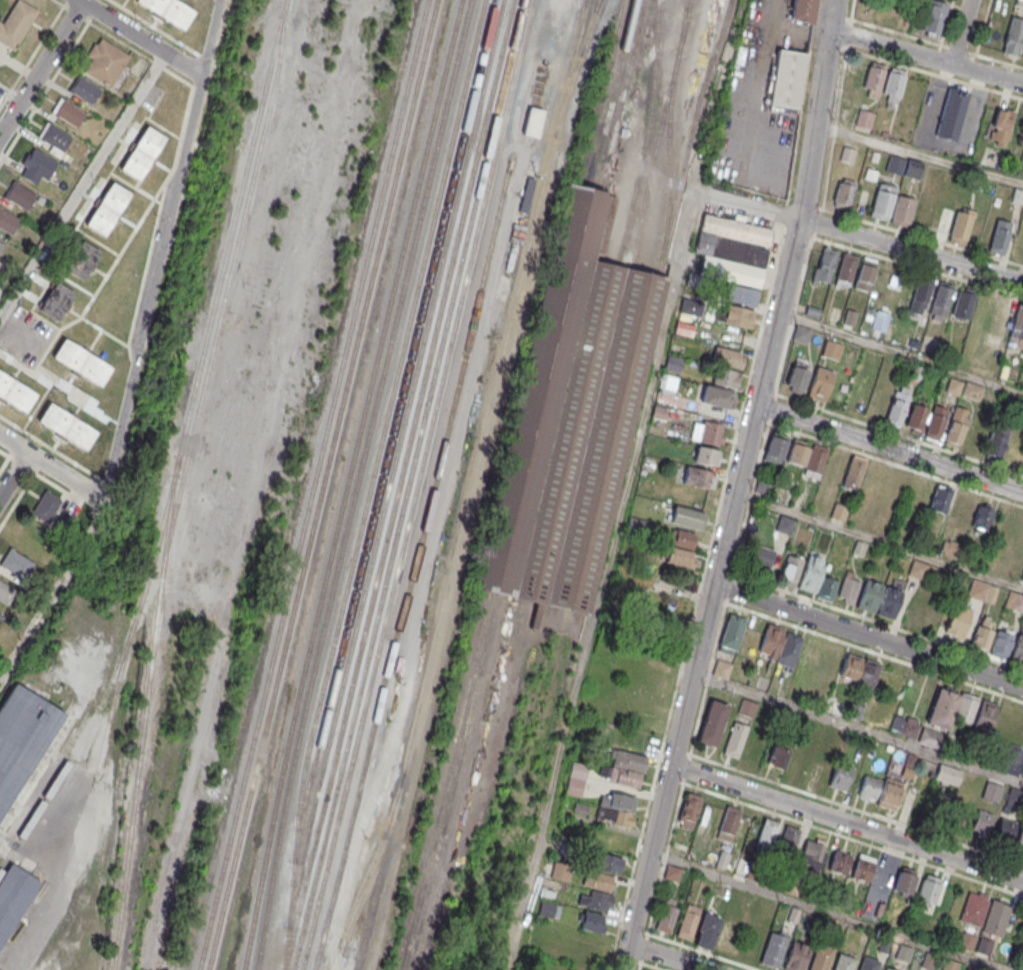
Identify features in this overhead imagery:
railway: (582, 2)
building: (169, 11)
building: (801, 11)
building: (933, 17)
building: (16, 23)
railway: (680, 25)
railway: (585, 26)
road: (787, 30)
road: (960, 32)
building: (1013, 36)
road: (141, 37)
road: (926, 57)
building: (105, 61)
railway: (572, 66)
road: (41, 68)
road: (760, 73)
building: (786, 78)
building: (872, 80)
building: (85, 89)
building: (892, 89)
railway: (600, 92)
railway: (609, 93)
railway: (621, 94)
building: (69, 112)
building: (951, 114)
building: (864, 119)
building: (531, 121)
building: (1000, 127)
railway: (645, 133)
railway: (657, 133)
railway: (687, 135)
building: (54, 138)
railway: (667, 140)
building: (142, 152)
road: (919, 152)
building: (848, 153)
building: (36, 165)
building: (903, 166)
road: (83, 182)
building: (843, 193)
building: (19, 195)
building: (882, 201)
road: (747, 204)
building: (107, 209)
building: (902, 210)
building: (8, 221)
building: (961, 225)
building: (999, 236)
building: (1, 246)
building: (732, 249)
road: (161, 251)
road: (911, 251)
building: (81, 260)
building: (824, 265)
building: (845, 269)
building: (864, 273)
railway: (224, 287)
building: (742, 295)
building: (919, 297)
building: (56, 300)
building: (940, 301)
building: (963, 303)
building: (690, 307)
building: (1000, 316)
building: (740, 317)
road: (773, 331)
building: (800, 334)
parking lot: (25, 335)
building: (831, 349)
road: (900, 353)
building: (727, 357)
building: (81, 362)
building: (726, 377)
building: (796, 377)
building: (819, 384)
building: (963, 388)
building: (15, 392)
building: (717, 396)
building: (898, 404)
building: (568, 417)
building: (916, 417)
building: (935, 422)
building: (66, 425)
building: (956, 427)
railway: (390, 429)
building: (712, 432)
building: (996, 440)
building: (775, 448)
road: (889, 448)
building: (797, 452)
building: (706, 456)
building: (816, 459)
railway: (392, 462)
building: (1022, 469)
road: (54, 470)
building: (853, 472)
road: (14, 475)
building: (696, 477)
railway: (170, 480)
railway: (368, 482)
railway: (354, 483)
railway: (310, 484)
railway: (345, 484)
railway: (395, 484)
railway: (468, 484)
building: (871, 484)
railway: (320, 485)
railway: (405, 485)
railway: (413, 485)
building: (939, 498)
building: (46, 507)
building: (961, 508)
building: (687, 517)
building: (982, 519)
building: (784, 524)
building: (902, 533)
building: (681, 539)
road: (879, 541)
building: (679, 557)
building: (761, 559)
building: (16, 563)
building: (917, 569)
railway: (411, 570)
building: (790, 570)
building: (811, 573)
road: (600, 579)
building: (1022, 581)
building: (848, 587)
building: (827, 588)
building: (982, 591)
building: (5, 592)
road: (54, 595)
building: (869, 596)
building: (1014, 601)
building: (888, 602)
building: (958, 621)
building: (731, 633)
building: (983, 633)
road: (868, 635)
building: (770, 639)
building: (1001, 643)
building: (788, 649)
building: (1017, 651)
building: (809, 653)
railway: (534, 666)
building: (720, 668)
building: (849, 669)
building: (868, 676)
railway: (106, 691)
railway: (114, 698)
building: (645, 699)
building: (746, 707)
building: (950, 707)
railway: (510, 709)
building: (845, 710)
building: (985, 715)
building: (712, 722)
railway: (549, 723)
building: (904, 726)
road: (857, 729)
building: (22, 737)
building: (929, 737)
building: (734, 740)
building: (787, 757)
building: (1012, 760)
building: (908, 765)
building: (624, 768)
building: (818, 768)
road: (685, 770)
building: (948, 774)
building: (840, 777)
railway: (437, 779)
railway: (447, 780)
building: (576, 781)
railway: (459, 782)
building: (869, 787)
building: (992, 791)
building: (888, 794)
building: (616, 808)
building: (930, 809)
building: (689, 810)
road: (659, 814)
building: (982, 822)
building: (728, 823)
road: (846, 823)
building: (1004, 830)
building: (765, 837)
building: (1019, 838)
building: (612, 839)
building: (786, 844)
building: (811, 853)
building: (607, 862)
building: (839, 862)
building: (862, 867)
building: (561, 872)
railway: (364, 873)
building: (672, 873)
building: (905, 880)
building: (929, 888)
building: (597, 890)
building: (14, 896)
building: (549, 908)
building: (974, 909)
road: (824, 912)
building: (793, 915)
building: (666, 917)
building: (995, 919)
building: (593, 921)
building: (688, 922)
building: (706, 930)
building: (727, 936)
building: (755, 938)
building: (967, 941)
building: (984, 947)
building: (774, 948)
road: (703, 951)
building: (904, 954)
building: (795, 956)
road: (668, 957)
building: (820, 957)
building: (843, 962)
building: (928, 962)
building: (867, 963)
road: (649, 964)
building: (950, 965)
building: (646, 969)
building: (886, 969)
building: (970, 969)

